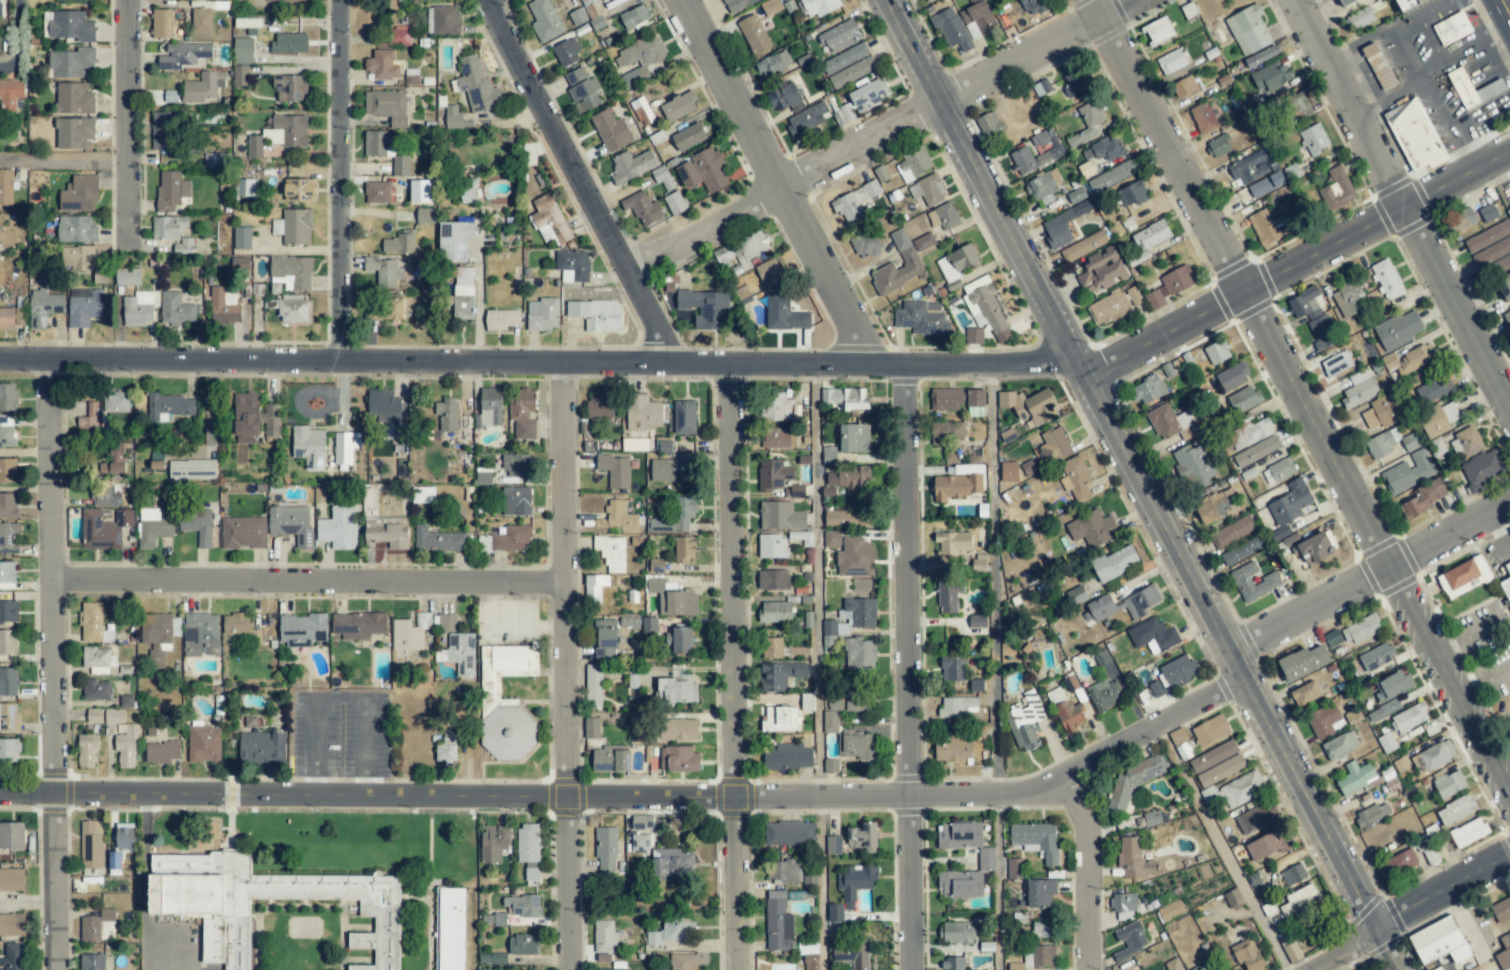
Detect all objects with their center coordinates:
building: (286, 0)
building: (929, 0)
building: (1377, 0)
building: (1346, 2)
building: (737, 4)
building: (1407, 4)
building: (590, 6)
building: (771, 6)
building: (818, 7)
building: (1033, 7)
road: (1506, 7)
building: (0, 8)
building: (577, 16)
building: (634, 16)
building: (1359, 18)
building: (977, 19)
building: (201, 20)
building: (445, 20)
building: (544, 20)
building: (162, 23)
building: (245, 23)
building: (70, 26)
building: (1452, 28)
building: (951, 29)
building: (1248, 30)
building: (1157, 32)
building: (754, 34)
building: (400, 36)
building: (840, 36)
road: (1369, 36)
building: (290, 43)
building: (243, 51)
road: (1035, 51)
building: (566, 52)
building: (183, 55)
building: (641, 55)
road: (1434, 55)
building: (1261, 56)
building: (1171, 62)
building: (71, 63)
building: (773, 64)
building: (382, 65)
building: (848, 65)
building: (1378, 66)
building: (240, 75)
building: (1272, 76)
building: (1074, 82)
building: (1460, 84)
building: (477, 85)
building: (203, 87)
building: (1041, 87)
building: (1184, 87)
building: (289, 88)
building: (581, 88)
building: (10, 94)
building: (868, 94)
building: (164, 97)
building: (784, 97)
building: (74, 99)
road: (1388, 100)
building: (387, 106)
building: (678, 106)
building: (1297, 106)
road: (1443, 114)
building: (452, 116)
building: (1203, 118)
building: (805, 120)
road: (123, 122)
building: (1087, 123)
building: (990, 124)
building: (610, 130)
building: (163, 131)
building: (287, 131)
building: (74, 133)
building: (1417, 136)
building: (689, 137)
building: (1314, 140)
building: (378, 144)
building: (254, 146)
building: (1218, 146)
building: (1050, 149)
building: (1103, 150)
road: (61, 160)
building: (215, 160)
building: (914, 164)
building: (401, 165)
building: (631, 166)
building: (1249, 168)
building: (703, 171)
building: (659, 174)
building: (1111, 177)
road: (339, 181)
road: (782, 181)
road: (584, 182)
building: (1266, 184)
road: (783, 185)
building: (6, 186)
building: (246, 187)
building: (299, 189)
building: (871, 189)
building: (1042, 189)
building: (1337, 189)
building: (171, 190)
building: (467, 190)
building: (927, 190)
building: (419, 191)
building: (377, 192)
building: (79, 194)
building: (1131, 194)
building: (1076, 195)
building: (675, 203)
building: (850, 205)
building: (643, 208)
road: (1398, 208)
building: (1509, 208)
building: (1488, 213)
building: (425, 215)
building: (947, 216)
building: (1463, 218)
building: (550, 220)
building: (1063, 224)
building: (294, 226)
building: (1263, 227)
building: (76, 230)
building: (172, 233)
building: (1151, 235)
building: (1488, 237)
building: (242, 238)
building: (454, 241)
building: (400, 242)
building: (923, 242)
building: (866, 244)
building: (1084, 246)
building: (905, 248)
building: (743, 250)
building: (1492, 252)
building: (83, 262)
building: (957, 262)
building: (1505, 262)
building: (240, 263)
road: (1297, 264)
building: (572, 265)
building: (769, 270)
building: (1101, 270)
building: (384, 271)
building: (291, 272)
building: (128, 276)
building: (1387, 279)
building: (1505, 285)
building: (1170, 286)
building: (463, 293)
building: (1348, 299)
building: (1305, 304)
building: (1114, 305)
building: (84, 306)
building: (224, 306)
building: (43, 307)
building: (140, 308)
building: (394, 308)
building: (706, 308)
building: (985, 308)
building: (293, 309)
building: (176, 310)
building: (784, 313)
building: (543, 314)
building: (596, 314)
road: (476, 315)
building: (1507, 317)
building: (11, 318)
building: (921, 318)
building: (501, 319)
building: (1398, 330)
building: (1322, 333)
building: (974, 336)
building: (1217, 352)
building: (1415, 358)
road: (538, 363)
building: (1336, 363)
building: (1232, 377)
building: (1148, 389)
building: (1433, 390)
building: (1359, 393)
building: (7, 398)
building: (845, 398)
road: (1297, 398)
building: (956, 399)
building: (1243, 399)
building: (115, 402)
building: (168, 406)
building: (384, 406)
building: (490, 406)
building: (1030, 406)
building: (599, 407)
building: (775, 407)
building: (1382, 411)
building: (522, 413)
building: (642, 413)
building: (446, 414)
building: (684, 417)
building: (254, 419)
building: (88, 420)
building: (1438, 420)
building: (1173, 423)
building: (7, 431)
building: (947, 432)
building: (1251, 433)
building: (777, 438)
building: (854, 438)
building: (1467, 441)
building: (1382, 443)
building: (634, 444)
building: (1055, 445)
building: (309, 446)
building: (345, 449)
building: (1256, 451)
building: (828, 455)
building: (113, 460)
building: (517, 465)
building: (1193, 465)
building: (192, 469)
building: (1481, 469)
building: (8, 470)
building: (615, 470)
building: (671, 470)
building: (1013, 471)
building: (1278, 471)
building: (1408, 472)
building: (773, 475)
building: (483, 477)
building: (1075, 478)
building: (846, 480)
road: (1142, 484)
building: (955, 486)
building: (423, 494)
building: (103, 495)
building: (1425, 498)
building: (516, 501)
building: (1290, 503)
building: (8, 505)
building: (1213, 505)
building: (675, 516)
building: (781, 516)
building: (618, 517)
building: (845, 518)
building: (196, 524)
building: (291, 524)
building: (153, 527)
building: (338, 528)
building: (104, 529)
building: (1092, 529)
building: (243, 532)
building: (386, 532)
building: (1232, 532)
building: (9, 537)
building: (802, 537)
building: (832, 538)
building: (438, 540)
building: (507, 540)
building: (952, 543)
building: (772, 546)
building: (1316, 547)
building: (684, 550)
building: (1243, 551)
building: (611, 552)
building: (855, 558)
building: (1115, 563)
building: (657, 565)
building: (7, 572)
road: (819, 576)
road: (995, 577)
building: (1465, 577)
road: (1370, 578)
building: (773, 580)
building: (1269, 580)
road: (310, 582)
building: (1506, 583)
building: (594, 587)
building: (949, 596)
building: (1076, 596)
building: (673, 599)
building: (1141, 601)
building: (1098, 608)
building: (8, 612)
building: (775, 612)
building: (858, 612)
building: (977, 621)
building: (447, 622)
building: (629, 622)
building: (92, 623)
building: (237, 625)
building: (357, 625)
building: (649, 625)
building: (302, 629)
building: (1361, 629)
road: (1473, 630)
building: (410, 632)
building: (833, 632)
building: (159, 635)
building: (201, 635)
building: (1152, 635)
building: (1332, 638)
building: (681, 639)
building: (605, 640)
building: (7, 642)
building: (772, 648)
building: (795, 651)
building: (459, 653)
building: (859, 654)
building: (1376, 657)
building: (1102, 658)
building: (99, 660)
building: (1303, 662)
road: (50, 664)
road: (907, 666)
road: (567, 667)
road: (731, 667)
building: (952, 668)
building: (1178, 671)
building: (780, 675)
building: (8, 681)
road: (1483, 684)
building: (593, 685)
building: (677, 689)
building: (1156, 689)
building: (97, 690)
building: (1305, 693)
building: (1389, 694)
building: (1104, 695)
road: (340, 696)
building: (846, 701)
building: (506, 702)
building: (807, 702)
building: (957, 706)
building: (1066, 711)
building: (94, 716)
building: (114, 716)
building: (9, 718)
building: (1409, 718)
building: (778, 719)
building: (1325, 721)
building: (830, 722)
building: (1026, 722)
building: (592, 728)
building: (678, 729)
building: (1211, 732)
building: (1178, 737)
building: (1387, 742)
building: (204, 744)
building: (856, 745)
building: (1340, 746)
building: (261, 747)
building: (126, 748)
building: (446, 749)
building: (9, 750)
building: (87, 750)
building: (952, 750)
building: (162, 752)
building: (1437, 754)
building: (788, 757)
building: (679, 759)
building: (610, 760)
building: (1217, 764)
building: (830, 766)
building: (1355, 777)
building: (1134, 781)
building: (1449, 784)
building: (1242, 790)
road: (636, 795)
building: (1456, 810)
building: (1372, 814)
building: (1256, 817)
building: (1152, 818)
building: (1468, 832)
building: (790, 833)
building: (12, 836)
building: (124, 836)
building: (862, 836)
building: (1036, 840)
building: (965, 841)
building: (494, 843)
building: (641, 843)
building: (91, 844)
building: (833, 845)
building: (1268, 845)
road: (1225, 847)
building: (606, 849)
building: (528, 851)
building: (1134, 859)
building: (115, 860)
road: (1085, 862)
building: (1399, 864)
building: (672, 865)
building: (1013, 868)
building: (785, 870)
building: (1293, 875)
building: (12, 880)
building: (810, 881)
building: (855, 881)
road: (998, 881)
road: (820, 882)
building: (960, 884)
road: (1441, 888)
building: (1040, 893)
building: (1233, 898)
building: (1298, 901)
building: (1123, 903)
building: (523, 905)
building: (1170, 910)
building: (1502, 910)
building: (835, 912)
building: (287, 914)
building: (493, 919)
building: (777, 922)
building: (12, 925)
building: (94, 925)
building: (676, 928)
building: (450, 929)
building: (1042, 929)
building: (957, 932)
building: (605, 936)
building: (1131, 937)
building: (1440, 941)
building: (524, 944)
building: (807, 948)
building: (1292, 952)
road: (1344, 952)
building: (851, 953)
building: (1503, 954)
building: (1247, 955)
building: (1041, 956)
building: (1120, 956)
building: (14, 957)
building: (492, 958)
building: (96, 962)
building: (683, 962)
building: (811, 962)
building: (954, 963)
building: (1203, 967)
building: (622, 969)
building: (1466, 969)

